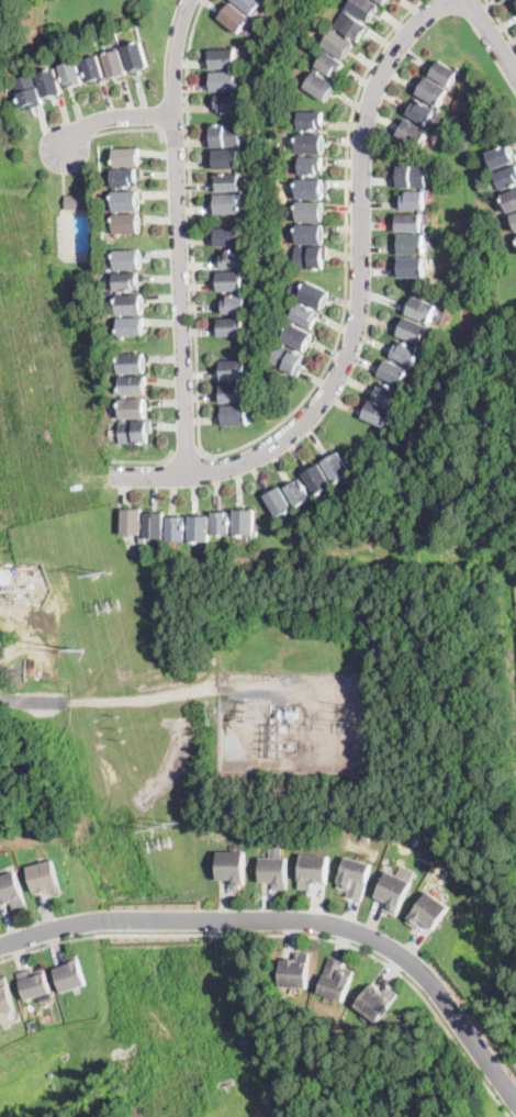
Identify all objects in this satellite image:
building: (515, 0)
building: (383, 1)
building: (240, 13)
road: (501, 24)
road: (490, 37)
building: (339, 45)
building: (42, 76)
building: (225, 80)
building: (248, 80)
building: (435, 103)
road: (113, 118)
road: (133, 131)
road: (176, 132)
building: (126, 157)
building: (501, 157)
building: (236, 171)
building: (124, 178)
building: (506, 178)
building: (309, 194)
building: (126, 201)
building: (511, 201)
building: (79, 202)
building: (514, 219)
building: (411, 222)
building: (126, 224)
road: (178, 236)
building: (124, 259)
building: (126, 281)
building: (231, 282)
building: (130, 305)
road: (359, 306)
building: (131, 327)
building: (298, 331)
building: (400, 361)
building: (131, 364)
building: (133, 384)
building: (235, 392)
building: (132, 409)
building: (135, 432)
road: (248, 443)
road: (187, 455)
road: (145, 461)
building: (321, 483)
building: (153, 527)
power tower: (102, 573)
building: (5, 574)
power tower: (112, 607)
power tower: (80, 648)
power tower: (63, 650)
road: (34, 701)
power tower: (212, 711)
power tower: (256, 711)
power substation: (290, 724)
power tower: (167, 826)
building: (232, 865)
building: (274, 867)
building: (313, 869)
building: (355, 875)
building: (44, 876)
building: (395, 886)
building: (10, 889)
building: (428, 911)
road: (235, 919)
road: (293, 935)
building: (295, 969)
building: (71, 973)
building: (336, 978)
building: (34, 982)
building: (5, 996)
building: (377, 999)
road: (479, 1045)
road: (514, 1090)

